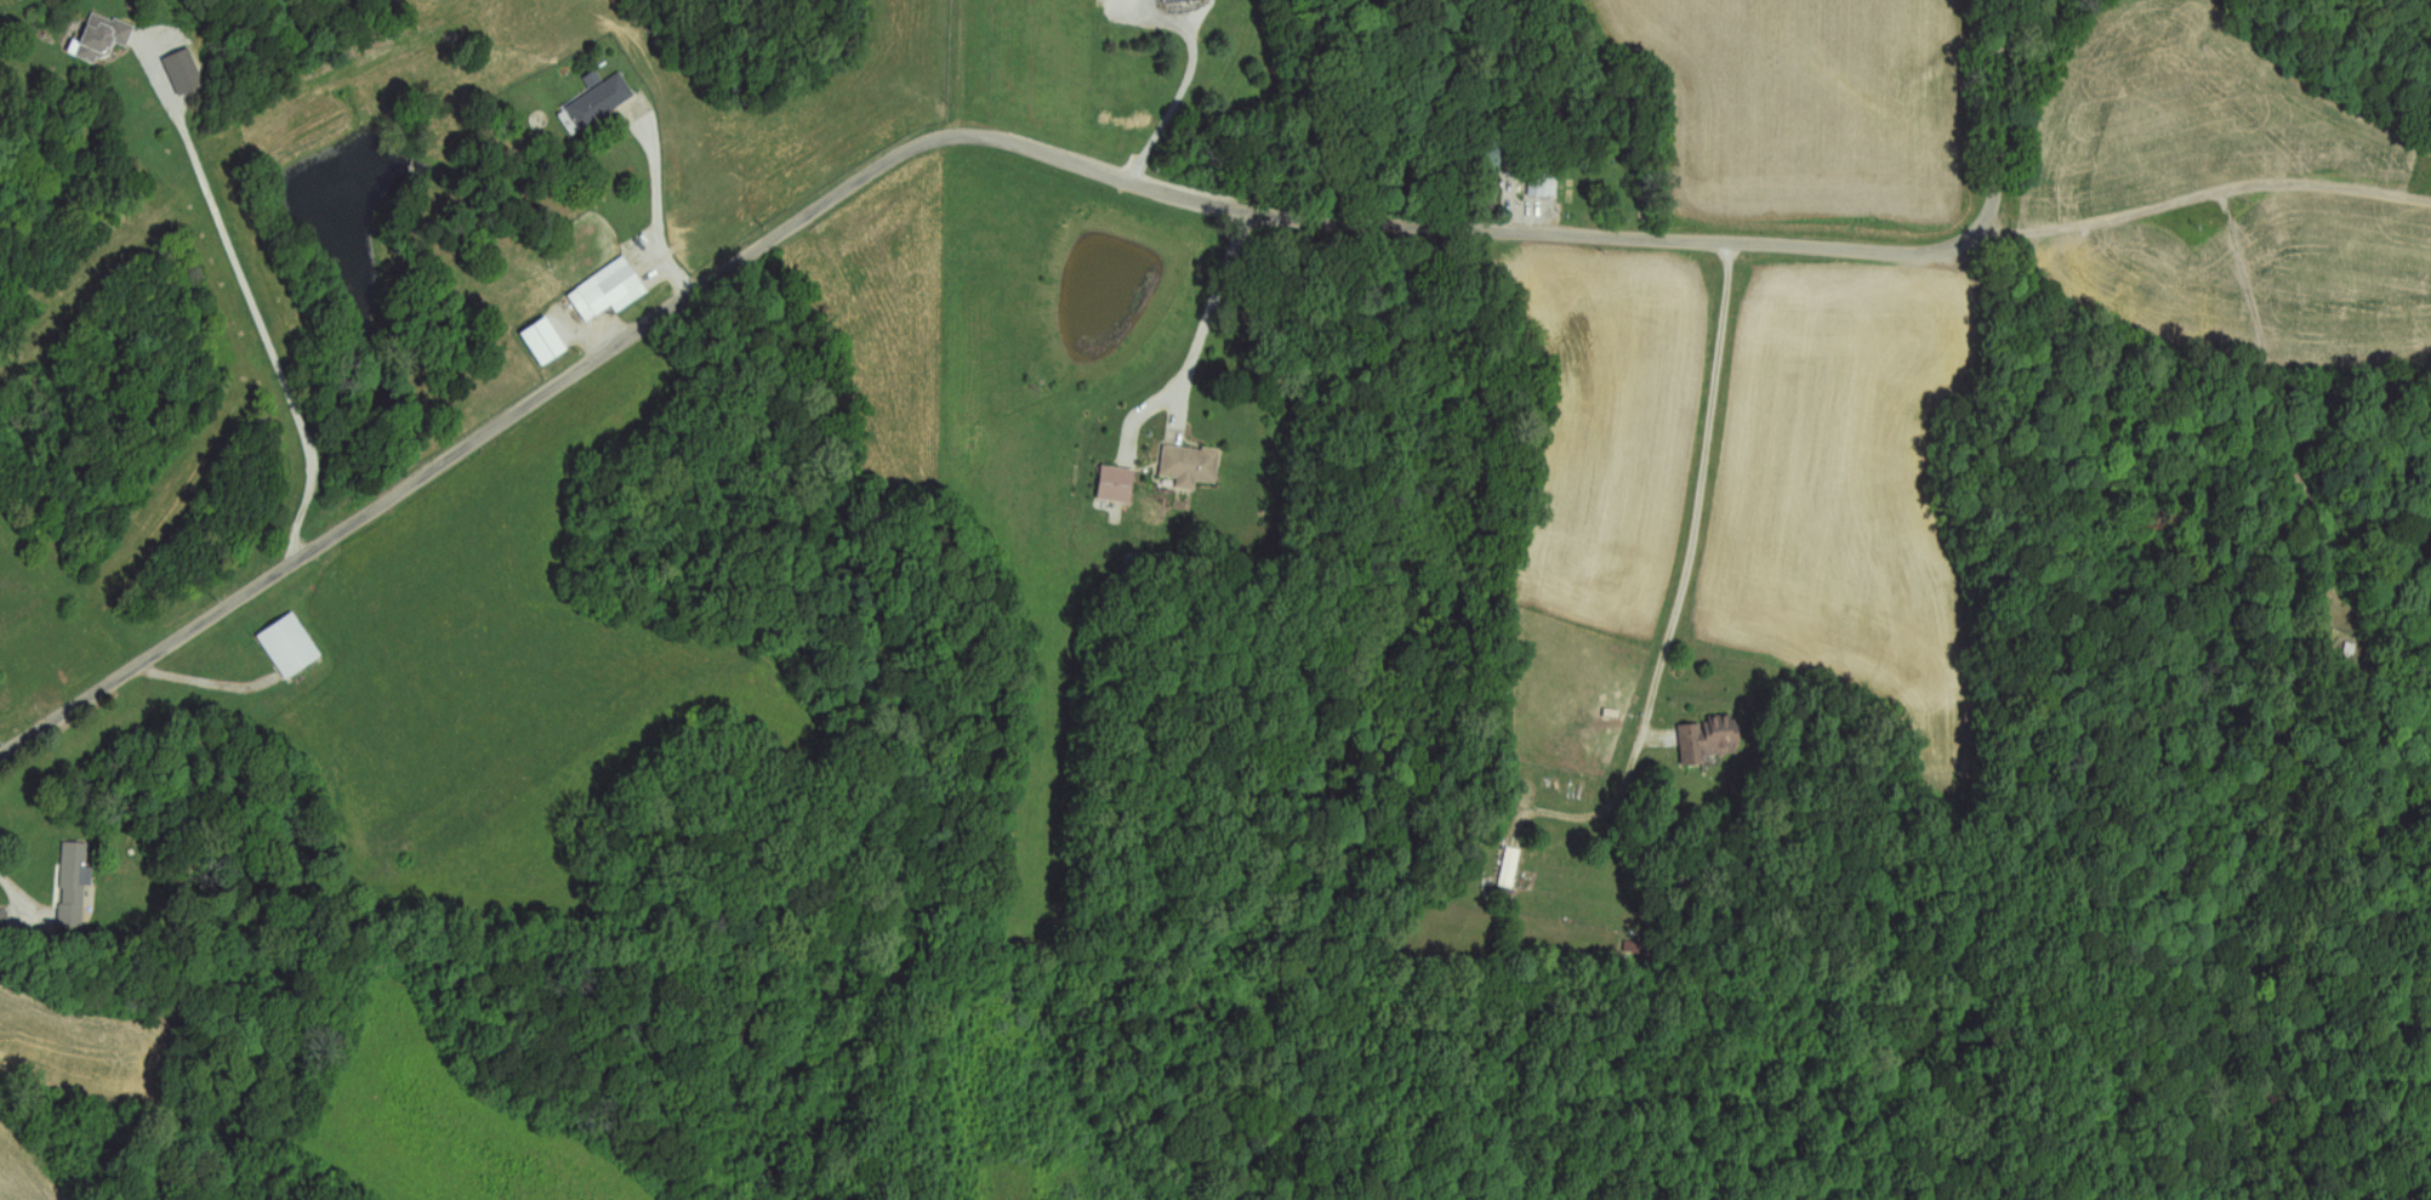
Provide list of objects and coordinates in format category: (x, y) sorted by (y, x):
building: (1185, 1)
building: (106, 38)
building: (604, 102)
road: (1175, 106)
road: (1021, 146)
building: (1495, 150)
road: (2208, 167)
building: (1545, 188)
road: (659, 206)
building: (611, 291)
road: (1212, 302)
road: (254, 308)
building: (1194, 466)
building: (1120, 485)
road: (1689, 568)
building: (292, 648)
road: (2117, 690)
building: (1710, 741)
building: (75, 886)
road: (24, 894)
building: (1507, 897)

